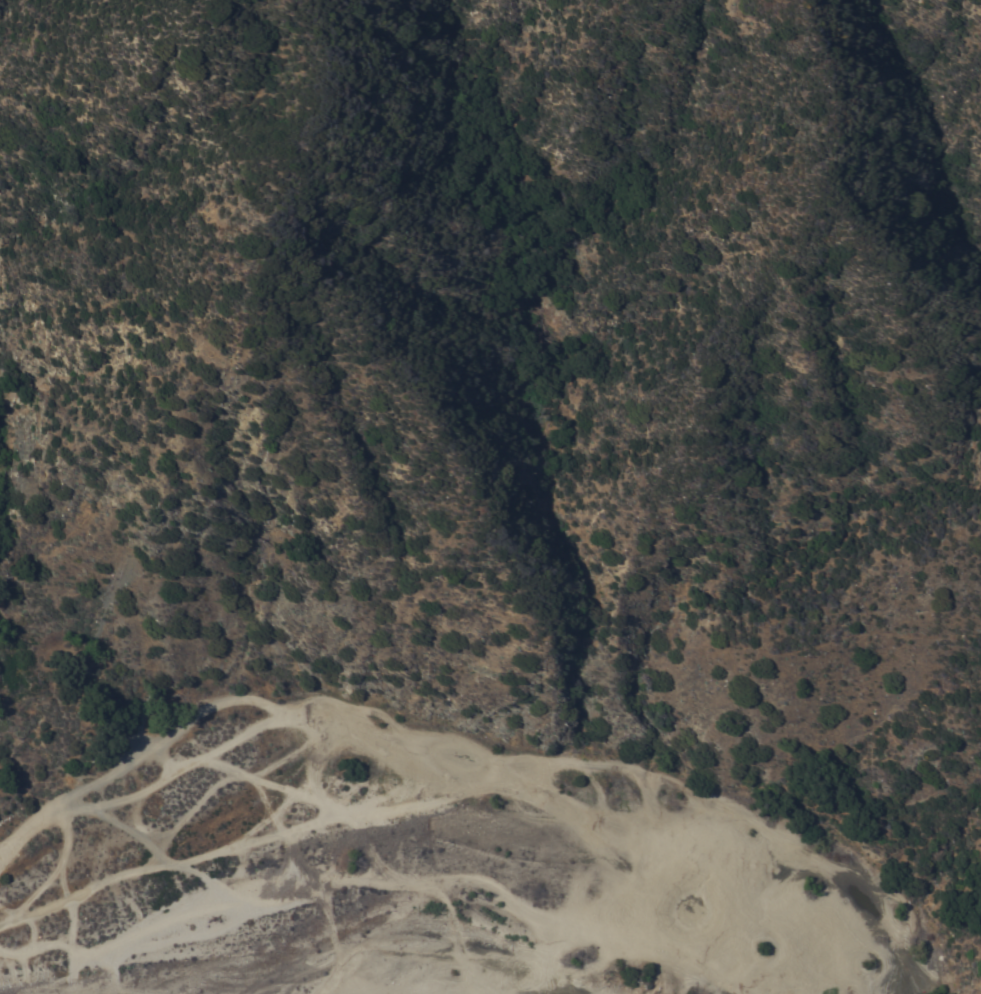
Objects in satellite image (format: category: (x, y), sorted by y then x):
road: (415, 799)
road: (477, 961)

